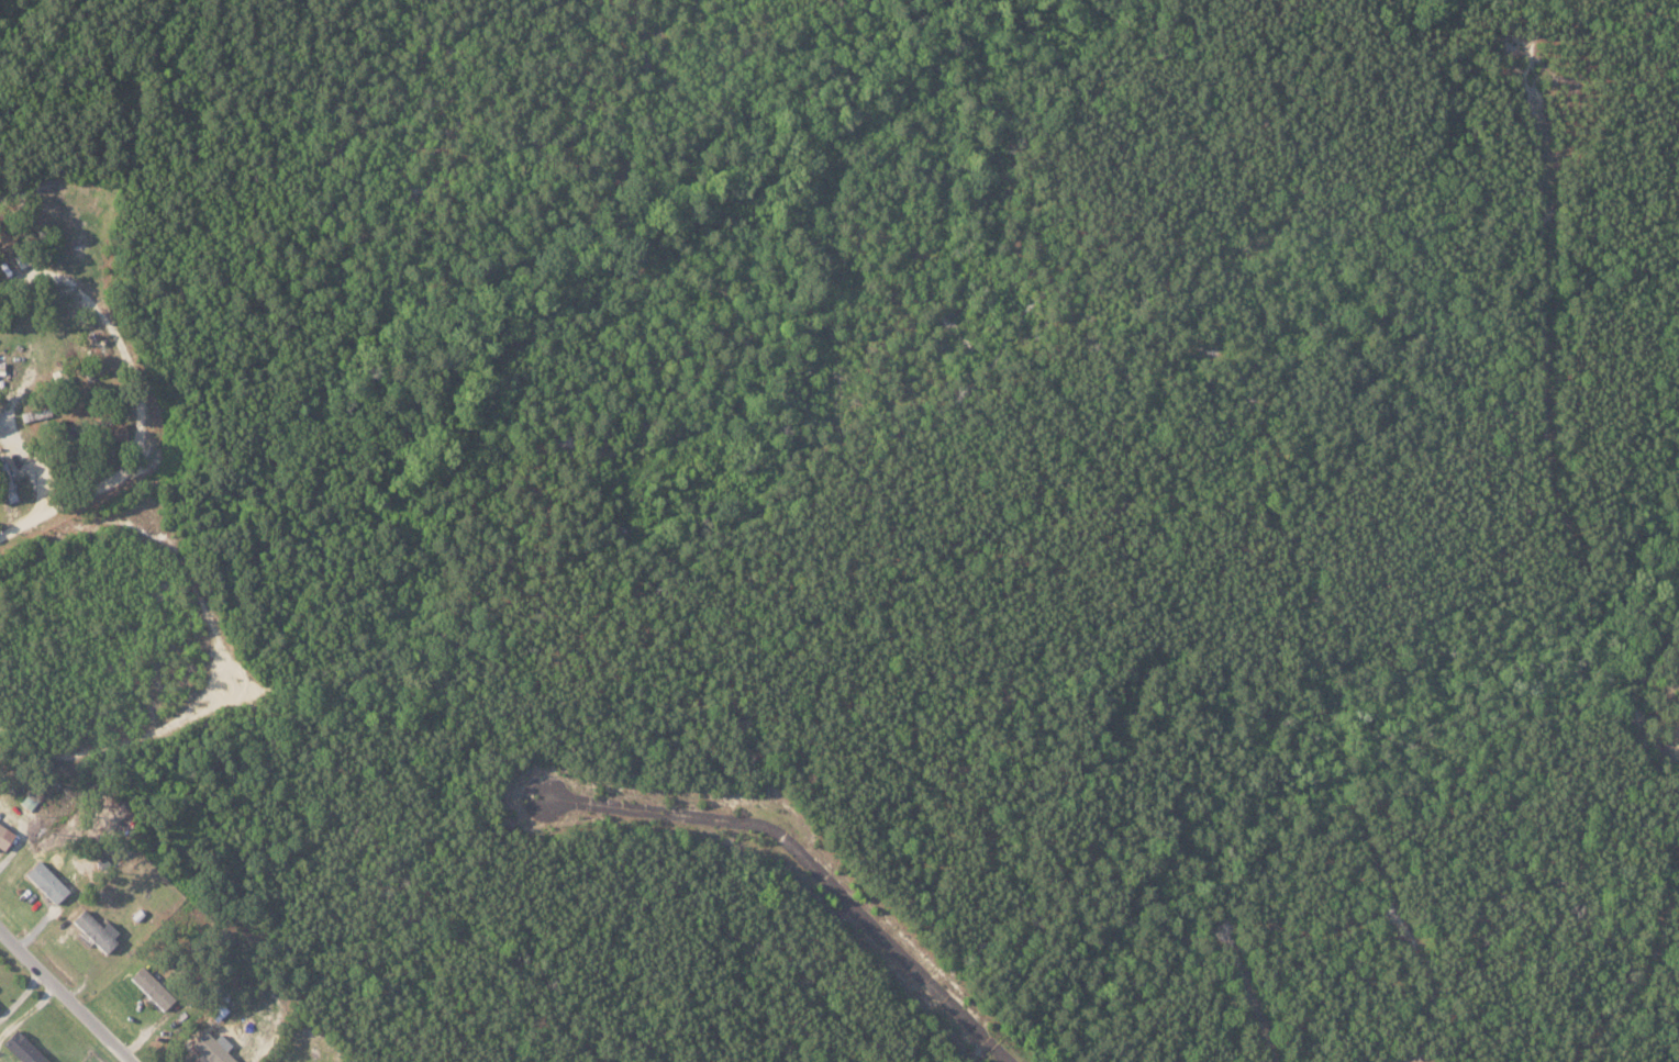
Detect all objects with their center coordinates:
road: (134, 139)
building: (4, 236)
road: (71, 288)
building: (111, 434)
road: (154, 460)
road: (53, 477)
building: (7, 483)
road: (223, 633)
building: (4, 836)
road: (812, 862)
building: (45, 881)
building: (94, 929)
building: (151, 986)
road: (64, 999)
building: (22, 1048)
building: (210, 1048)

